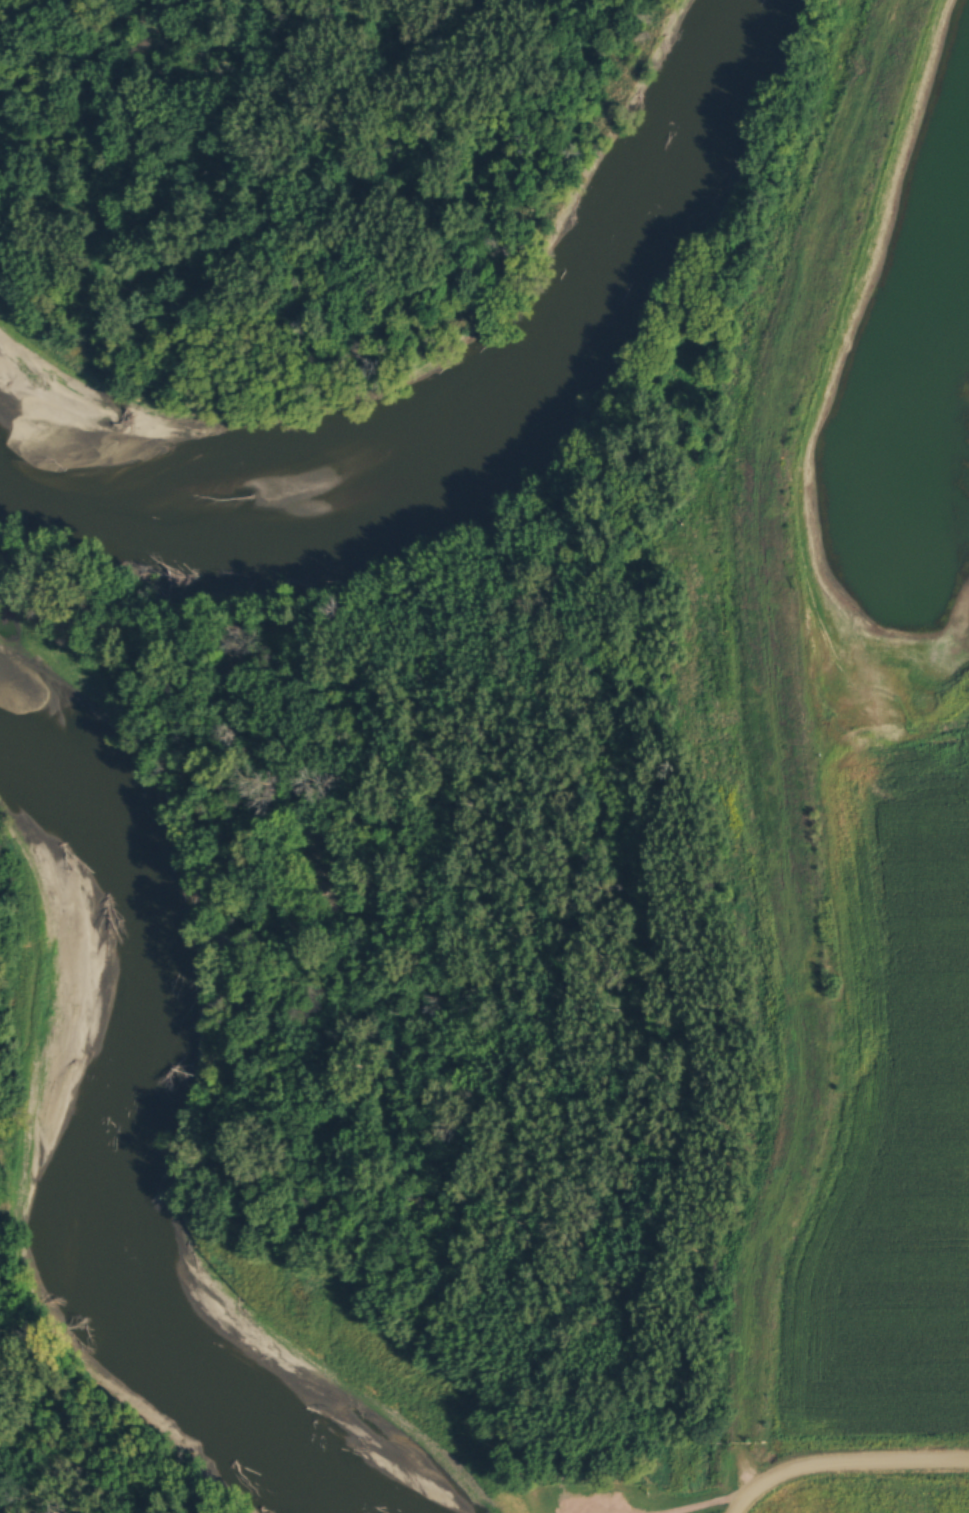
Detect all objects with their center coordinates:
river: (468, 419)
river: (93, 1181)
road: (844, 1457)

